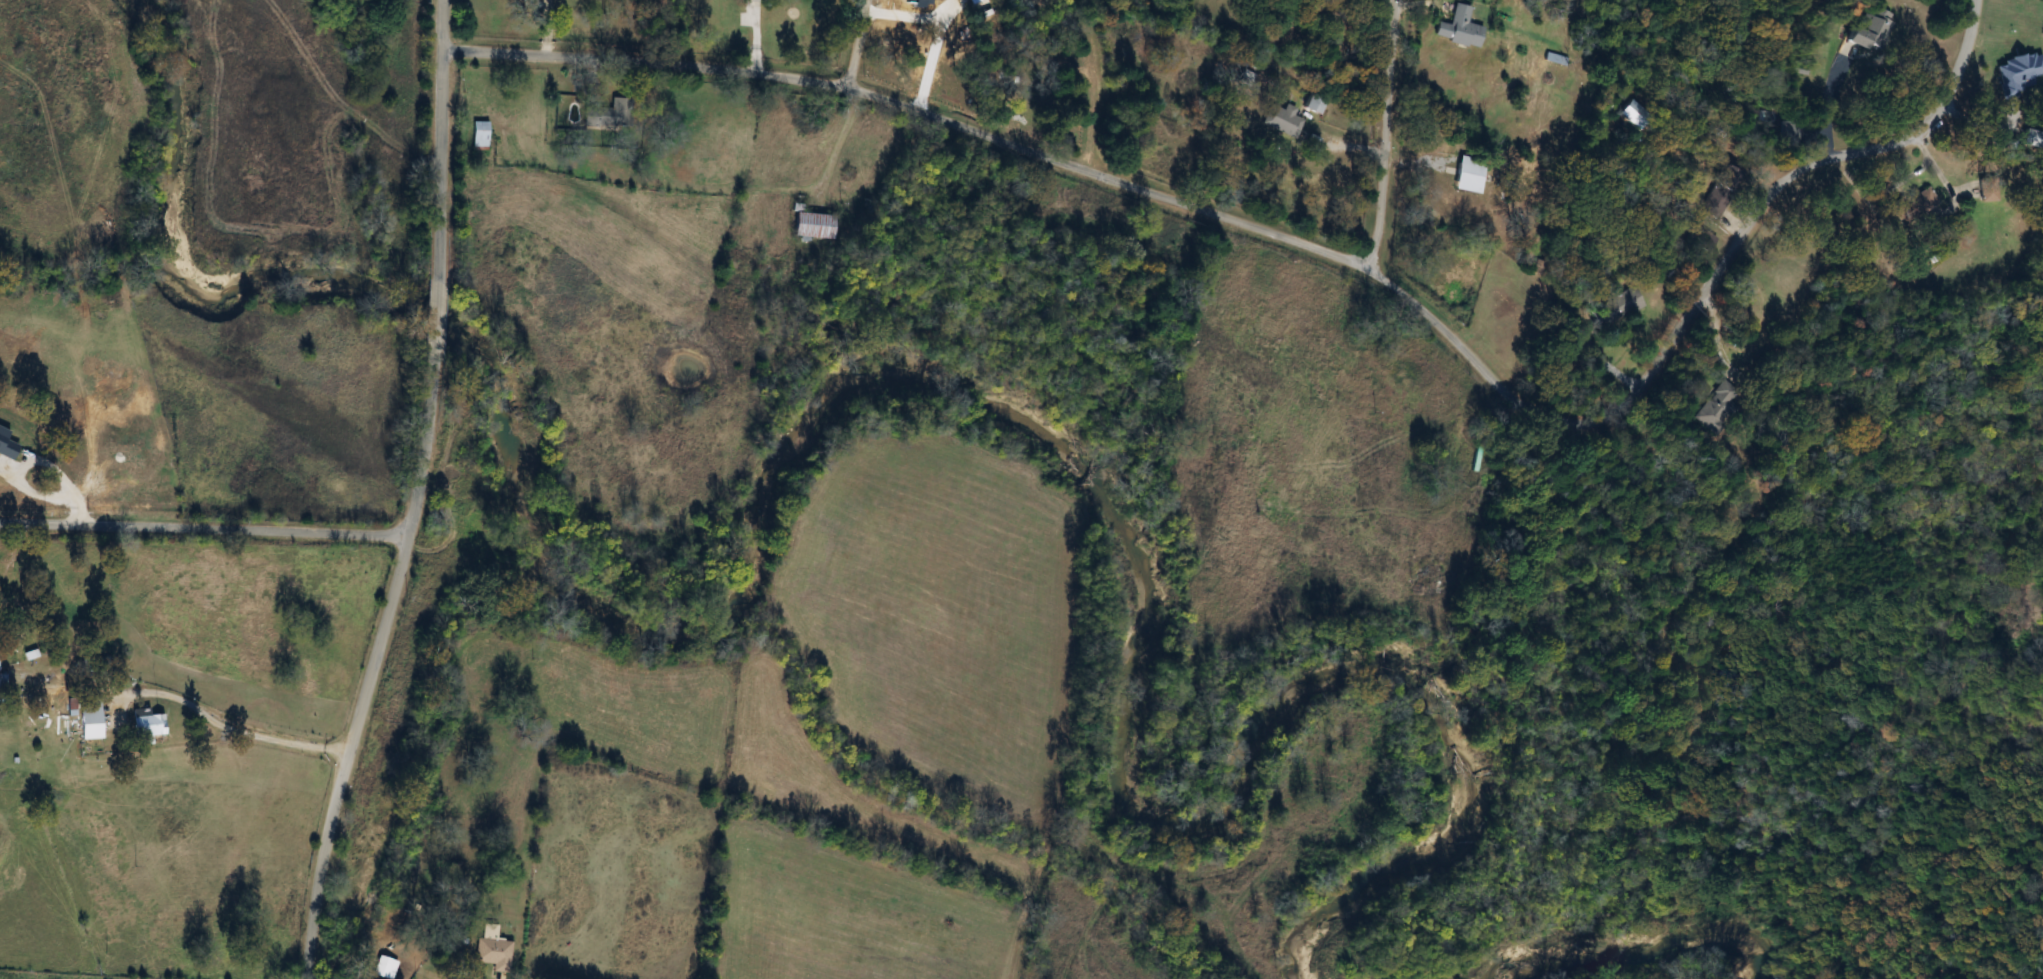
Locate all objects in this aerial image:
building: (1457, 29)
building: (1869, 32)
road: (855, 44)
road: (1826, 101)
building: (1311, 104)
building: (606, 116)
building: (1282, 121)
road: (1387, 134)
building: (479, 136)
road: (439, 140)
building: (1466, 177)
building: (1726, 181)
building: (1985, 195)
building: (1911, 207)
building: (810, 226)
building: (1701, 240)
road: (1337, 256)
building: (1615, 309)
road: (432, 334)
building: (1719, 409)
building: (1478, 461)
road: (205, 529)
road: (368, 682)
building: (2, 684)
building: (87, 721)
building: (145, 724)
road: (241, 726)
building: (492, 954)
building: (384, 969)

